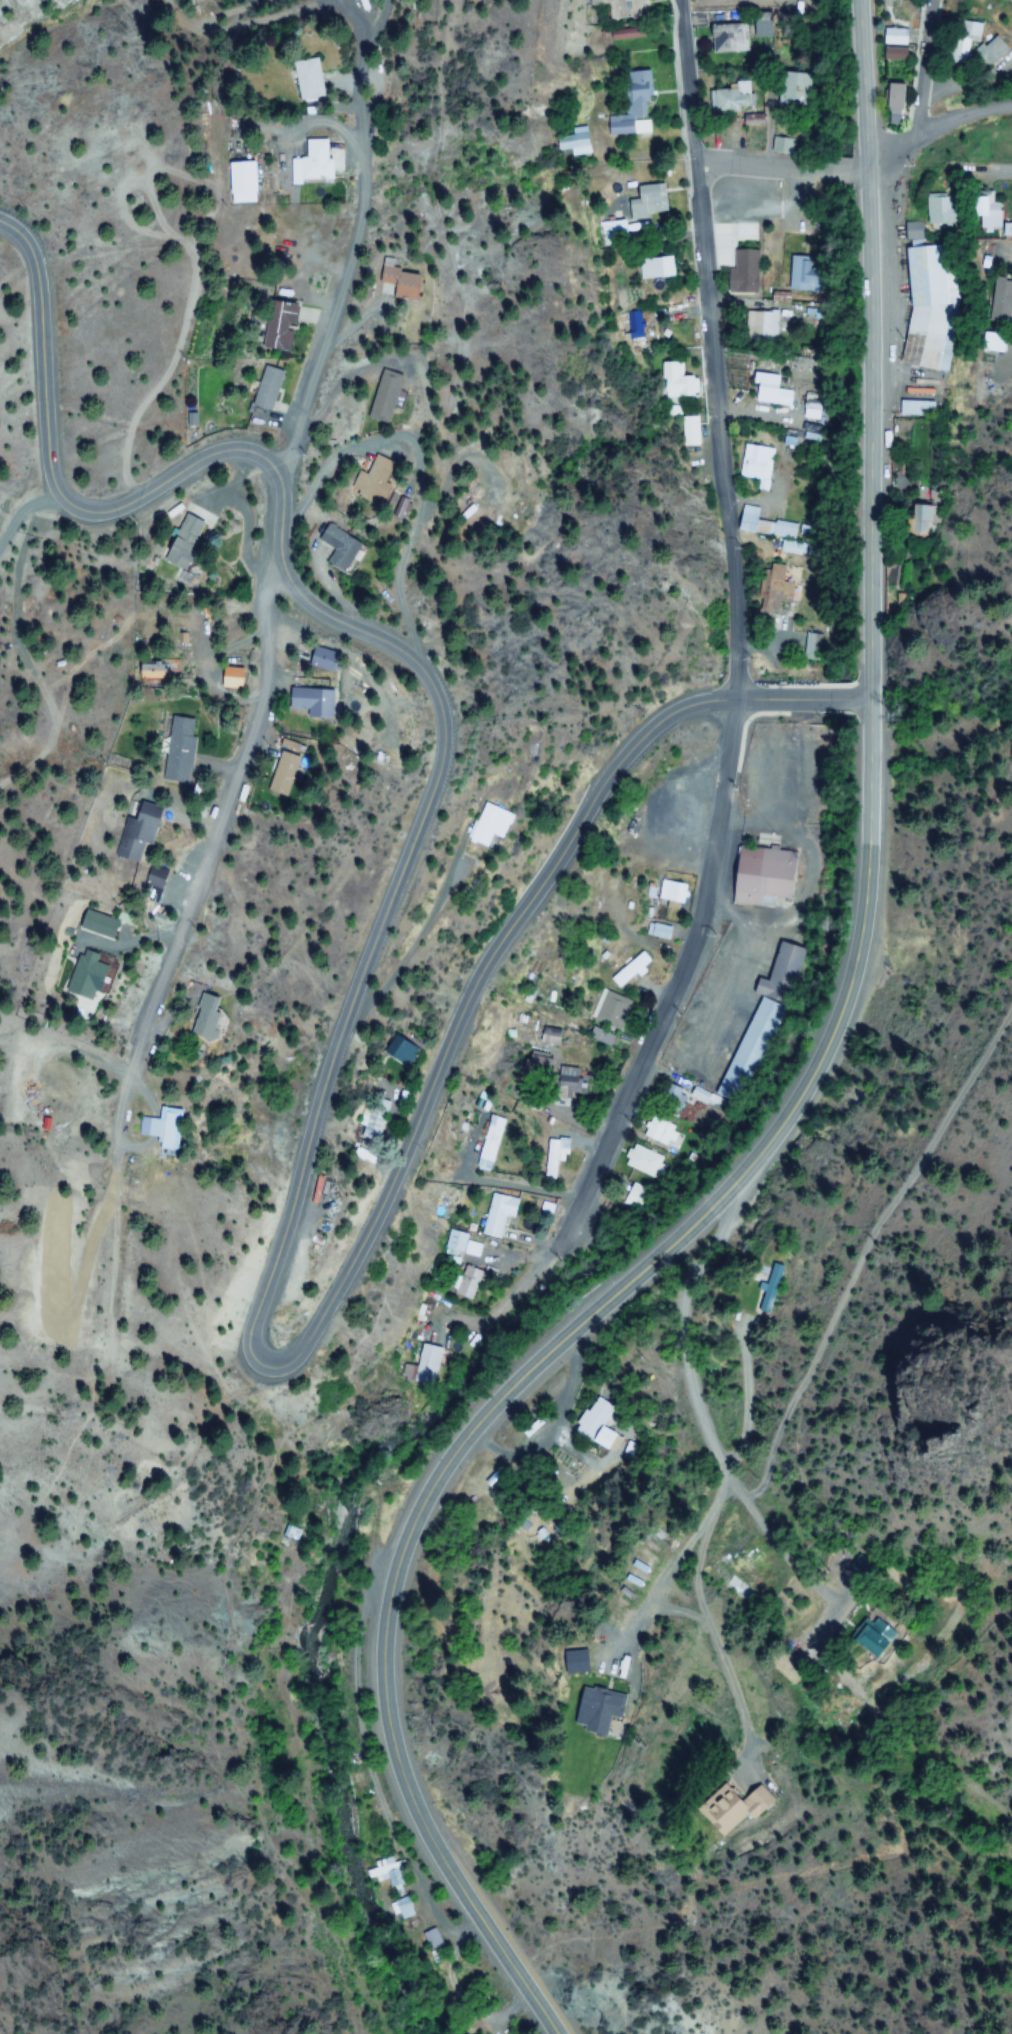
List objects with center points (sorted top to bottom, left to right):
building: (622, 10)
road: (257, 21)
building: (757, 26)
building: (967, 33)
building: (891, 36)
building: (723, 39)
building: (993, 53)
building: (889, 54)
road: (923, 62)
building: (307, 88)
building: (787, 88)
road: (959, 89)
building: (731, 97)
building: (890, 98)
building: (632, 108)
road: (930, 119)
building: (570, 142)
building: (311, 159)
road: (777, 167)
road: (999, 170)
building: (645, 204)
building: (977, 212)
building: (929, 217)
road: (349, 247)
building: (653, 268)
building: (745, 271)
building: (795, 274)
building: (393, 280)
building: (996, 300)
building: (926, 306)
building: (758, 325)
building: (272, 326)
building: (640, 328)
building: (984, 343)
road: (869, 351)
building: (678, 381)
building: (766, 389)
building: (262, 390)
building: (379, 396)
building: (913, 408)
building: (690, 431)
road: (53, 479)
building: (368, 480)
building: (764, 527)
building: (176, 542)
building: (334, 546)
building: (775, 591)
building: (809, 648)
road: (738, 679)
building: (303, 703)
building: (175, 750)
building: (488, 827)
building: (134, 832)
building: (758, 876)
building: (671, 894)
building: (96, 924)
building: (659, 931)
road: (179, 937)
building: (632, 971)
building: (86, 978)
building: (610, 1010)
building: (197, 1018)
building: (402, 1054)
building: (564, 1082)
building: (376, 1119)
building: (162, 1123)
building: (659, 1135)
building: (491, 1144)
building: (553, 1156)
building: (641, 1162)
building: (483, 1227)
building: (467, 1282)
road: (699, 1352)
road: (543, 1354)
road: (263, 1368)
road: (814, 1400)
building: (593, 1425)
building: (569, 1468)
road: (818, 1521)
building: (564, 1665)
building: (387, 1872)
building: (403, 1909)

